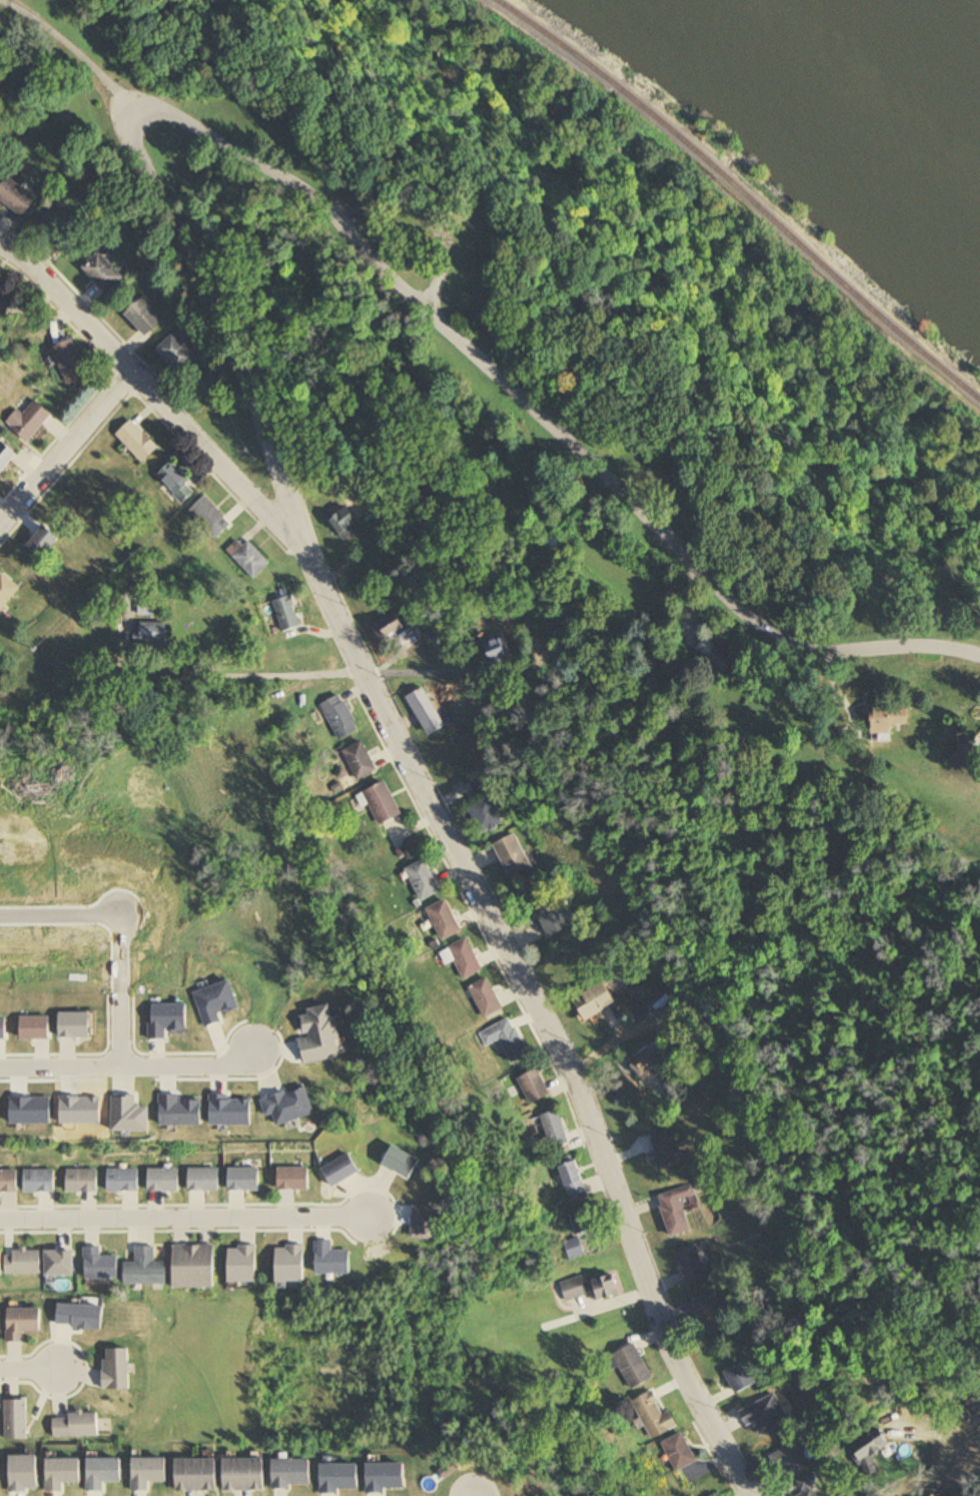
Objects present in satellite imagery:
road: (79, 52)
railway: (745, 192)
building: (16, 197)
road: (443, 218)
building: (58, 230)
road: (376, 256)
building: (102, 272)
building: (5, 303)
building: (143, 318)
building: (175, 354)
building: (71, 364)
road: (152, 394)
building: (29, 422)
building: (138, 442)
road: (66, 448)
building: (6, 457)
building: (176, 483)
building: (210, 518)
building: (345, 524)
building: (550, 527)
building: (41, 543)
building: (249, 559)
building: (6, 589)
building: (287, 613)
building: (392, 627)
building: (152, 633)
building: (498, 650)
building: (716, 657)
road: (213, 675)
building: (426, 712)
building: (340, 718)
building: (895, 721)
building: (360, 762)
building: (482, 784)
building: (383, 804)
building: (486, 816)
building: (512, 857)
building: (424, 881)
road: (59, 912)
building: (552, 917)
building: (445, 921)
building: (463, 959)
road: (119, 988)
building: (487, 999)
building: (597, 1002)
park: (810, 1007)
road: (539, 1014)
building: (506, 1040)
road: (127, 1063)
building: (649, 1063)
building: (534, 1088)
building: (556, 1132)
building: (667, 1151)
building: (341, 1172)
building: (123, 1180)
building: (203, 1180)
building: (242, 1180)
building: (293, 1180)
building: (39, 1181)
building: (83, 1181)
building: (162, 1181)
building: (9, 1182)
building: (574, 1183)
building: (675, 1210)
road: (184, 1218)
building: (583, 1236)
building: (99, 1259)
building: (0, 1260)
building: (22, 1260)
building: (58, 1260)
building: (691, 1266)
building: (194, 1267)
building: (146, 1269)
building: (607, 1288)
building: (574, 1289)
building: (710, 1315)
building: (0, 1320)
building: (22, 1323)
building: (633, 1367)
building: (118, 1369)
park: (298, 1369)
road: (29, 1370)
building: (739, 1378)
building: (974, 1406)
building: (654, 1416)
building: (764, 1416)
building: (75, 1426)
building: (679, 1452)
building: (871, 1452)
building: (787, 1462)
building: (197, 1474)
building: (245, 1474)
building: (806, 1488)

